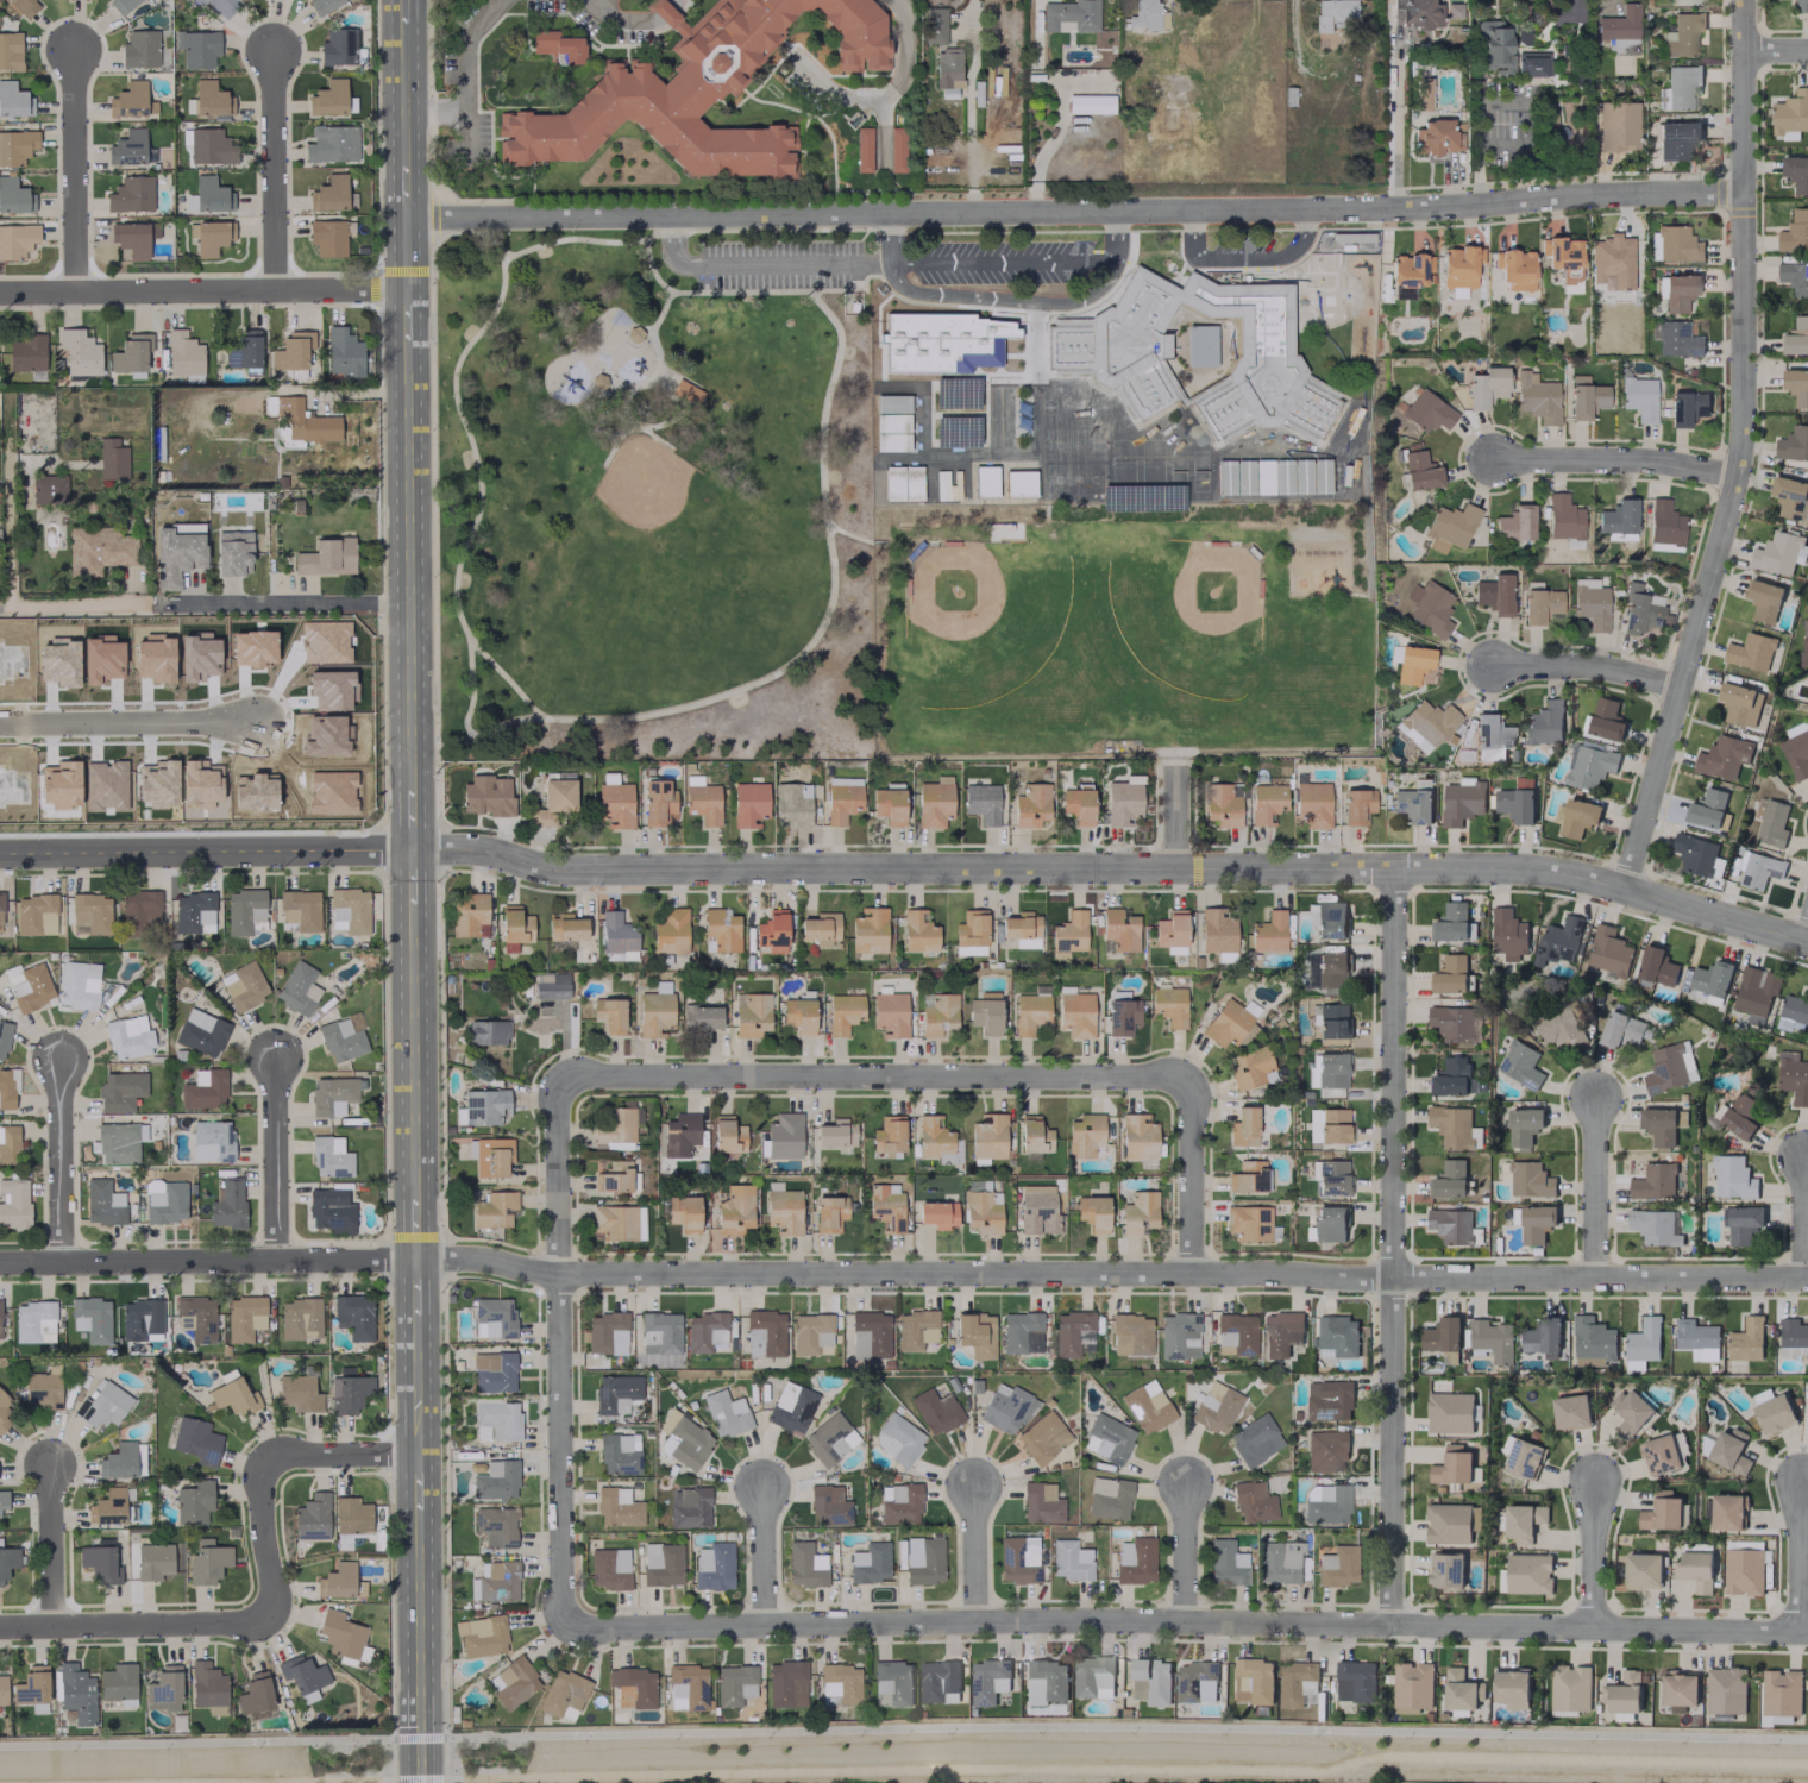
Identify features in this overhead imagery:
building: (121, 5)
building: (219, 5)
building: (324, 5)
building: (23, 6)
road: (604, 6)
building: (1801, 6)
building: (1454, 8)
building: (1567, 11)
building: (1332, 13)
building: (1417, 13)
building: (1147, 14)
building: (1069, 15)
building: (1619, 23)
building: (934, 25)
building: (1523, 34)
building: (1683, 34)
building: (557, 45)
building: (1620, 45)
building: (338, 46)
building: (1494, 46)
building: (196, 48)
building: (139, 49)
building: (10, 50)
road: (1775, 51)
building: (1530, 63)
building: (948, 68)
road: (464, 79)
building: (1681, 86)
building: (696, 88)
building: (1423, 93)
building: (328, 96)
building: (211, 99)
road: (884, 99)
building: (13, 100)
building: (127, 100)
building: (1090, 103)
road: (968, 105)
building: (1791, 112)
building: (1166, 121)
building: (1616, 125)
road: (1396, 130)
building: (1433, 136)
building: (1676, 139)
building: (331, 143)
building: (15, 146)
building: (127, 146)
building: (211, 146)
building: (862, 149)
building: (896, 149)
road: (76, 168)
road: (276, 170)
building: (1796, 174)
building: (328, 193)
building: (131, 194)
building: (211, 194)
building: (14, 196)
road: (1074, 212)
road: (815, 228)
building: (1795, 231)
road: (670, 233)
building: (329, 236)
building: (212, 237)
road: (1111, 237)
building: (130, 238)
building: (17, 239)
building: (1677, 244)
road: (492, 245)
road: (672, 249)
road: (1244, 258)
building: (1563, 259)
building: (1612, 260)
road: (974, 262)
road: (777, 264)
parking lot: (778, 264)
building: (1459, 265)
building: (1515, 268)
road: (383, 270)
building: (1408, 274)
road: (809, 277)
building: (1794, 277)
road: (203, 291)
road: (736, 291)
building: (1678, 293)
road: (998, 299)
building: (634, 334)
building: (1796, 337)
building: (1676, 339)
building: (990, 341)
building: (244, 350)
building: (291, 350)
building: (26, 352)
building: (79, 352)
building: (131, 352)
building: (343, 352)
building: (183, 353)
building: (597, 381)
building: (1796, 385)
building: (689, 387)
building: (1486, 387)
building: (1536, 397)
building: (1584, 397)
building: (1639, 397)
building: (891, 403)
building: (1685, 407)
road: (685, 410)
building: (1426, 412)
building: (302, 420)
road: (462, 421)
building: (1793, 444)
road: (1740, 452)
building: (112, 458)
road: (1620, 460)
building: (1419, 470)
road: (432, 475)
building: (48, 488)
park: (654, 492)
building: (1789, 496)
building: (1563, 517)
building: (1616, 520)
building: (1514, 522)
building: (1449, 526)
building: (1664, 526)
road: (847, 534)
park: (658, 535)
building: (98, 550)
building: (176, 552)
building: (233, 552)
building: (1778, 553)
building: (326, 557)
building: (1494, 594)
building: (1763, 601)
building: (1590, 603)
road: (326, 604)
building: (1539, 605)
road: (113, 607)
building: (1429, 608)
building: (1638, 611)
building: (96, 632)
building: (1803, 642)
building: (1750, 652)
building: (1412, 664)
road: (1584, 666)
road: (774, 671)
building: (1739, 704)
road: (127, 720)
building: (1605, 720)
building: (1544, 722)
building: (1425, 723)
building: (1490, 733)
road: (452, 740)
building: (1796, 751)
building: (1722, 758)
building: (1589, 766)
building: (842, 780)
building: (486, 795)
building: (614, 801)
building: (1461, 801)
building: (553, 802)
building: (657, 802)
building: (841, 802)
building: (981, 802)
building: (1123, 802)
building: (703, 803)
building: (749, 803)
building: (792, 803)
building: (1267, 803)
building: (933, 804)
building: (1030, 804)
building: (1311, 804)
building: (1413, 804)
building: (889, 805)
building: (1078, 805)
building: (1220, 805)
building: (1357, 805)
building: (1514, 805)
building: (1708, 811)
road: (1176, 817)
building: (1577, 817)
building: (1771, 824)
building: (1694, 854)
building: (1758, 869)
road: (906, 873)
road: (414, 891)
building: (0, 906)
building: (300, 909)
building: (243, 910)
building: (349, 910)
building: (139, 911)
building: (90, 912)
building: (194, 912)
building: (36, 914)
building: (469, 915)
building: (1329, 919)
building: (1452, 923)
building: (514, 927)
building: (566, 927)
building: (820, 928)
building: (1021, 929)
building: (1119, 929)
building: (720, 930)
building: (868, 930)
building: (1216, 930)
building: (670, 931)
building: (772, 931)
building: (918, 931)
building: (1170, 931)
building: (1268, 931)
building: (616, 933)
building: (971, 933)
building: (1068, 934)
building: (1507, 934)
road: (1807, 938)
building: (1557, 941)
building: (1608, 952)
building: (1656, 966)
building: (1331, 969)
building: (1450, 975)
building: (1710, 978)
building: (77, 984)
building: (243, 985)
building: (551, 985)
building: (33, 987)
building: (297, 988)
building: (1754, 991)
building: (1169, 1005)
building: (1794, 1009)
building: (654, 1010)
building: (843, 1012)
building: (1029, 1012)
building: (1120, 1012)
building: (609, 1013)
building: (890, 1013)
building: (1075, 1013)
building: (752, 1015)
building: (798, 1015)
building: (938, 1015)
building: (985, 1015)
building: (701, 1016)
building: (1229, 1021)
building: (1332, 1021)
building: (1455, 1023)
building: (1561, 1025)
building: (1622, 1030)
building: (201, 1031)
building: (486, 1031)
building: (4, 1037)
building: (126, 1037)
building: (340, 1038)
building: (1519, 1066)
building: (1251, 1068)
building: (1331, 1069)
building: (1665, 1069)
building: (1312, 1071)
road: (873, 1072)
building: (1451, 1078)
building: (1793, 1078)
building: (7, 1088)
building: (203, 1088)
building: (120, 1090)
building: (333, 1094)
building: (484, 1106)
building: (1739, 1116)
building: (1327, 1124)
building: (1451, 1125)
building: (1658, 1125)
building: (1243, 1126)
building: (1523, 1126)
building: (835, 1132)
building: (679, 1134)
building: (727, 1134)
building: (889, 1134)
building: (1084, 1134)
building: (784, 1135)
building: (1032, 1135)
building: (987, 1136)
building: (1137, 1136)
building: (934, 1138)
building: (211, 1140)
building: (119, 1141)
building: (329, 1156)
building: (490, 1156)
road: (276, 1157)
road: (62, 1160)
road: (1193, 1174)
building: (1248, 1176)
building: (614, 1178)
building: (1331, 1178)
building: (1732, 1178)
building: (1449, 1180)
building: (1528, 1180)
building: (1652, 1182)
road: (1596, 1187)
building: (164, 1200)
building: (102, 1201)
building: (14, 1204)
building: (227, 1204)
building: (886, 1205)
building: (495, 1208)
building: (1037, 1208)
building: (735, 1210)
building: (327, 1211)
building: (784, 1211)
building: (983, 1211)
building: (684, 1212)
building: (829, 1212)
building: (1092, 1212)
building: (1138, 1212)
building: (937, 1213)
road: (1803, 1214)
building: (1248, 1222)
building: (1330, 1223)
building: (1536, 1223)
building: (1741, 1223)
building: (1451, 1225)
building: (1655, 1226)
road: (1392, 1249)
road: (903, 1274)
building: (353, 1316)
building: (495, 1316)
building: (195, 1317)
building: (244, 1317)
building: (90, 1318)
building: (139, 1318)
building: (300, 1318)
building: (33, 1321)
building: (915, 1329)
building: (705, 1331)
building: (607, 1332)
building: (659, 1332)
building: (810, 1332)
building: (1021, 1332)
building: (1281, 1332)
building: (764, 1333)
building: (975, 1333)
building: (1072, 1333)
building: (1235, 1333)
building: (1793, 1333)
building: (0, 1335)
building: (870, 1335)
building: (1130, 1335)
building: (1337, 1335)
building: (1440, 1335)
building: (1179, 1336)
building: (1542, 1336)
building: (1492, 1339)
building: (1696, 1339)
building: (1746, 1341)
building: (1592, 1342)
building: (1641, 1344)
road: (560, 1349)
building: (492, 1371)
building: (43, 1389)
building: (615, 1392)
building: (297, 1393)
building: (351, 1394)
building: (234, 1396)
building: (1760, 1396)
building: (1327, 1400)
building: (102, 1405)
building: (1147, 1406)
building: (790, 1407)
building: (1006, 1407)
building: (1216, 1407)
building: (4, 1411)
building: (935, 1411)
building: (1570, 1412)
building: (1630, 1412)
building: (726, 1413)
building: (1449, 1413)
building: (1774, 1414)
building: (497, 1418)
building: (897, 1438)
building: (1042, 1438)
building: (1107, 1438)
building: (684, 1439)
building: (829, 1439)
building: (1254, 1439)
building: (196, 1440)
building: (1326, 1451)
building: (1729, 1451)
building: (619, 1452)
road: (339, 1455)
building: (1658, 1456)
building: (1521, 1457)
building: (119, 1461)
building: (1451, 1467)
building: (496, 1480)
building: (1107, 1498)
building: (4, 1499)
building: (194, 1501)
building: (1253, 1501)
building: (1040, 1502)
building: (1325, 1503)
building: (828, 1505)
building: (900, 1505)
building: (689, 1506)
building: (108, 1507)
building: (617, 1507)
building: (1727, 1512)
building: (1663, 1513)
building: (351, 1517)
building: (312, 1518)
building: (1451, 1523)
building: (1521, 1523)
building: (496, 1526)
road: (265, 1543)
road: (52, 1544)
road: (975, 1551)
road: (1185, 1553)
road: (764, 1556)
road: (1801, 1556)
road: (1594, 1557)
building: (1018, 1559)
building: (1069, 1559)
building: (1135, 1559)
building: (153, 1561)
building: (1277, 1561)
building: (8, 1562)
building: (207, 1562)
building: (870, 1562)
building: (100, 1563)
building: (661, 1563)
building: (927, 1563)
building: (1226, 1563)
building: (805, 1565)
building: (1337, 1565)
building: (712, 1567)
building: (609, 1568)
building: (1445, 1570)
building: (1694, 1570)
building: (1641, 1571)
building: (1743, 1571)
building: (1527, 1574)
building: (338, 1580)
building: (496, 1582)
road: (132, 1622)
road: (1185, 1625)
building: (340, 1634)
building: (482, 1636)
building: (303, 1675)
building: (1093, 1677)
building: (987, 1681)
building: (1253, 1681)
building: (1355, 1681)
building: (118, 1682)
building: (513, 1682)
building: (840, 1682)
building: (893, 1682)
building: (938, 1682)
building: (1047, 1682)
building: (1150, 1682)
building: (1195, 1682)
building: (786, 1683)
building: (1295, 1683)
building: (635, 1684)
building: (734, 1684)
building: (207, 1685)
building: (32, 1687)
building: (686, 1687)
building: (1411, 1687)
building: (1511, 1688)
building: (1569, 1688)
building: (164, 1689)
building: (1678, 1689)
building: (2, 1690)
building: (1461, 1690)
building: (1725, 1690)
building: (76, 1693)
building: (1781, 1693)
building: (563, 1694)
building: (1622, 1694)
building: (255, 1696)
road: (903, 1729)

